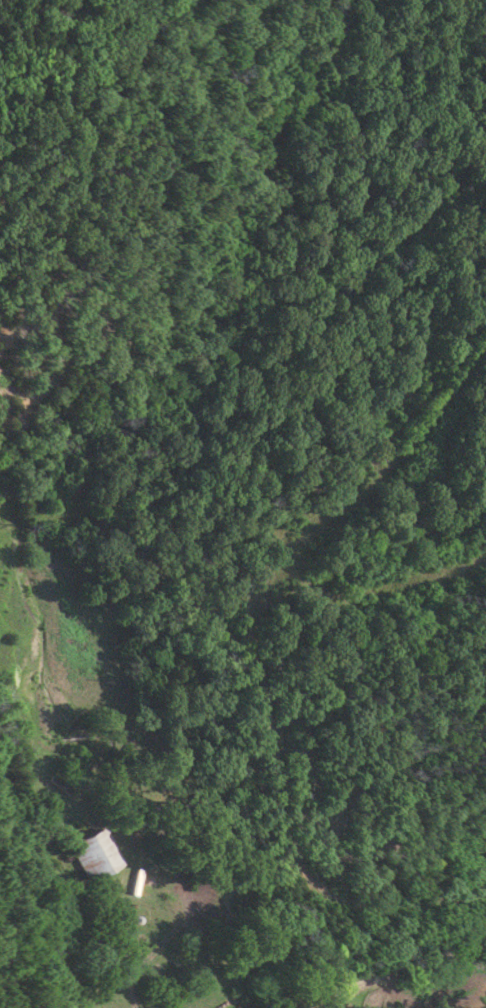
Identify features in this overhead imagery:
road: (124, 947)
road: (398, 966)

